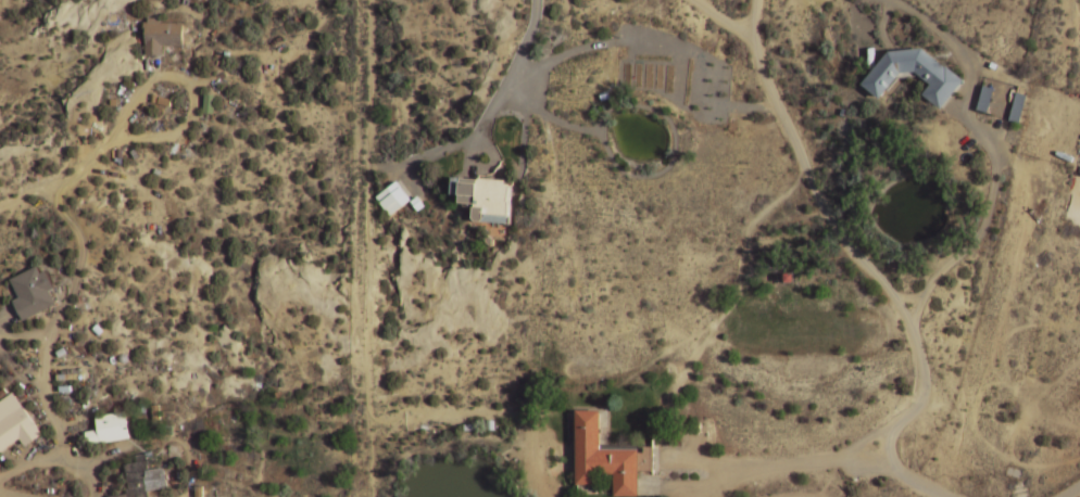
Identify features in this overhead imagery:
road: (721, 21)
building: (162, 36)
road: (625, 39)
building: (941, 78)
building: (985, 99)
building: (1018, 109)
road: (959, 111)
road: (490, 112)
road: (995, 154)
road: (470, 160)
road: (493, 163)
road: (409, 177)
road: (635, 178)
road: (70, 181)
road: (29, 194)
building: (392, 200)
building: (487, 201)
building: (416, 204)
road: (368, 248)
road: (861, 263)
building: (33, 294)
road: (909, 298)
road: (3, 320)
road: (25, 336)
road: (17, 370)
building: (64, 390)
building: (155, 415)
road: (70, 419)
building: (15, 424)
building: (109, 431)
road: (871, 438)
road: (159, 442)
building: (608, 458)
road: (54, 460)
road: (844, 462)
road: (876, 464)
road: (749, 470)
building: (142, 479)
road: (703, 487)
road: (1072, 492)
road: (4, 495)

